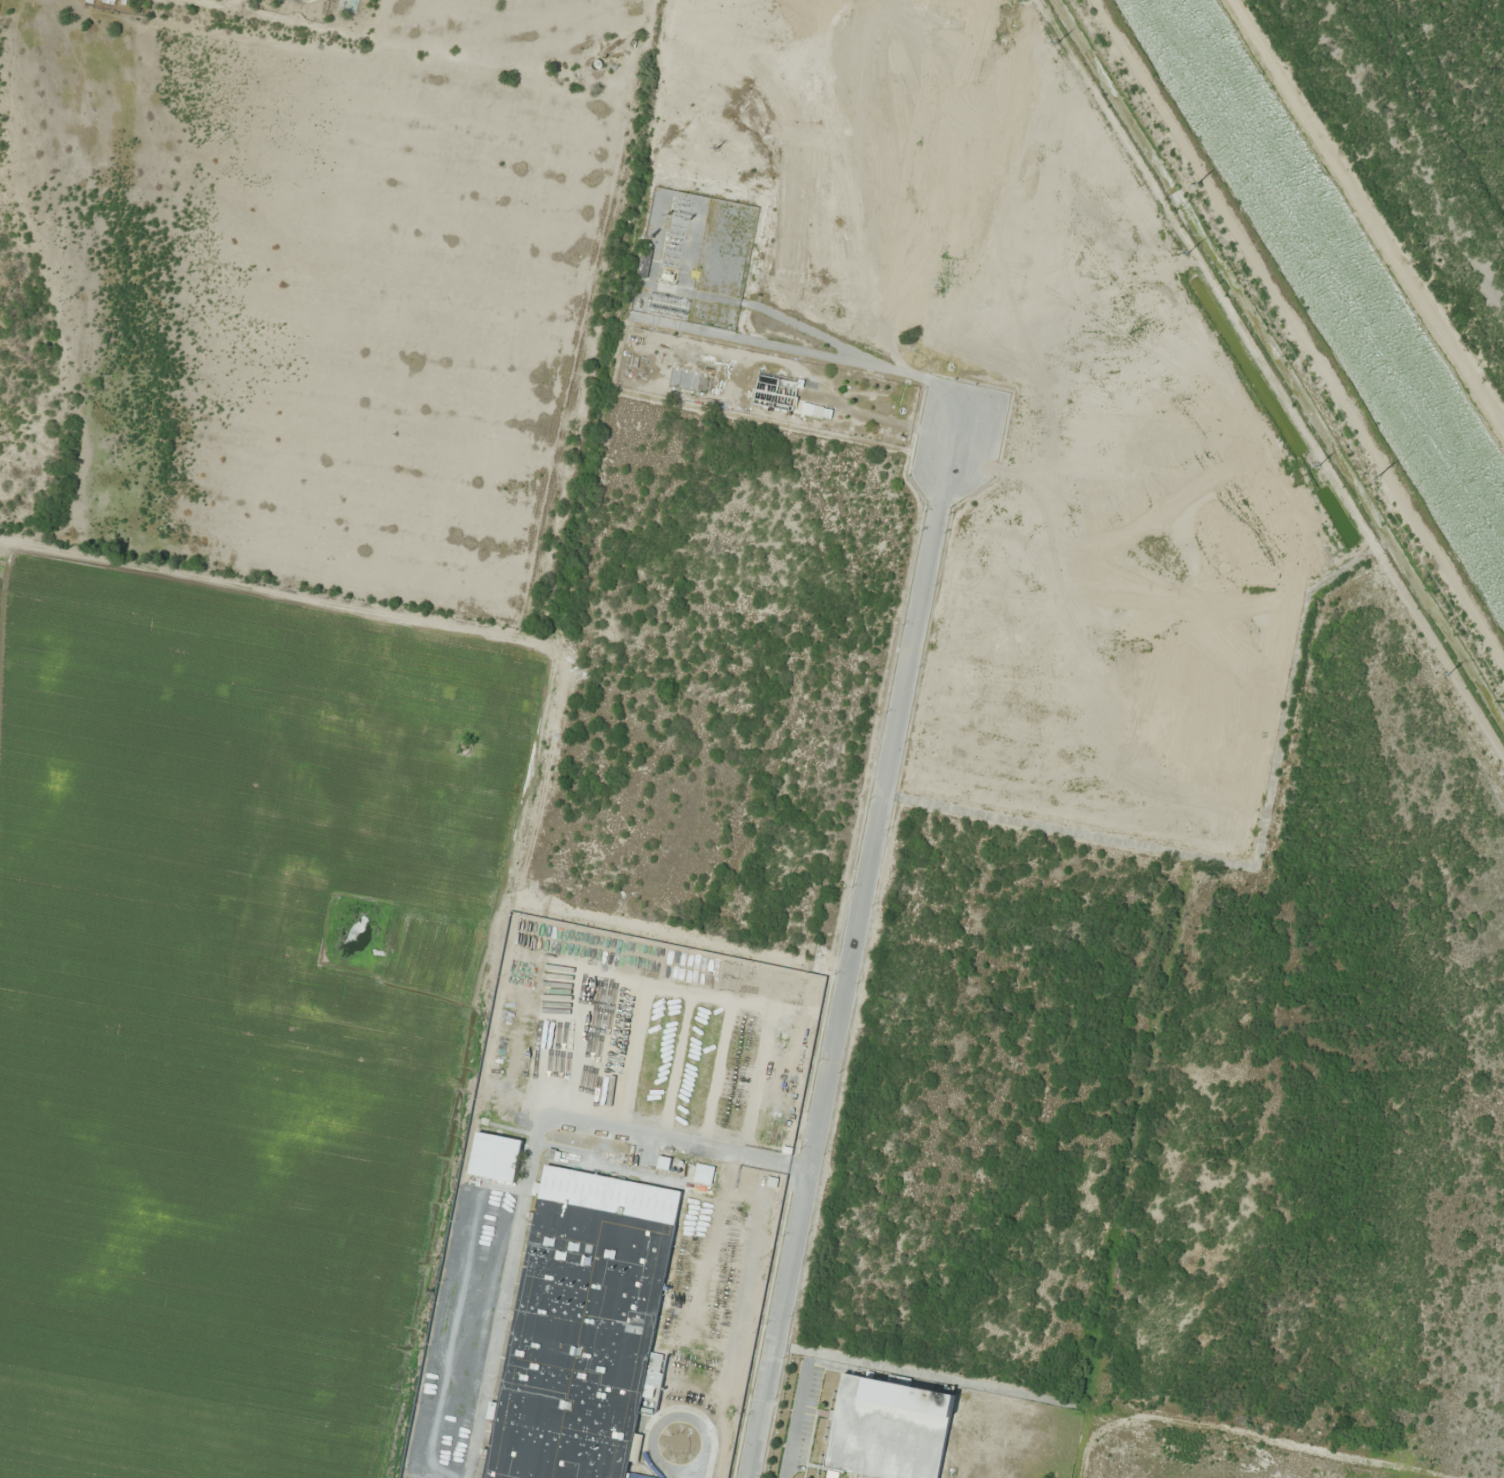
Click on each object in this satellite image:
park: (489, 34)
power tower: (1067, 41)
power tower: (735, 144)
power tower: (1190, 177)
power tower: (1197, 252)
power substation: (705, 256)
power tower: (1316, 464)
power tower: (1374, 470)
power tower: (1458, 672)

